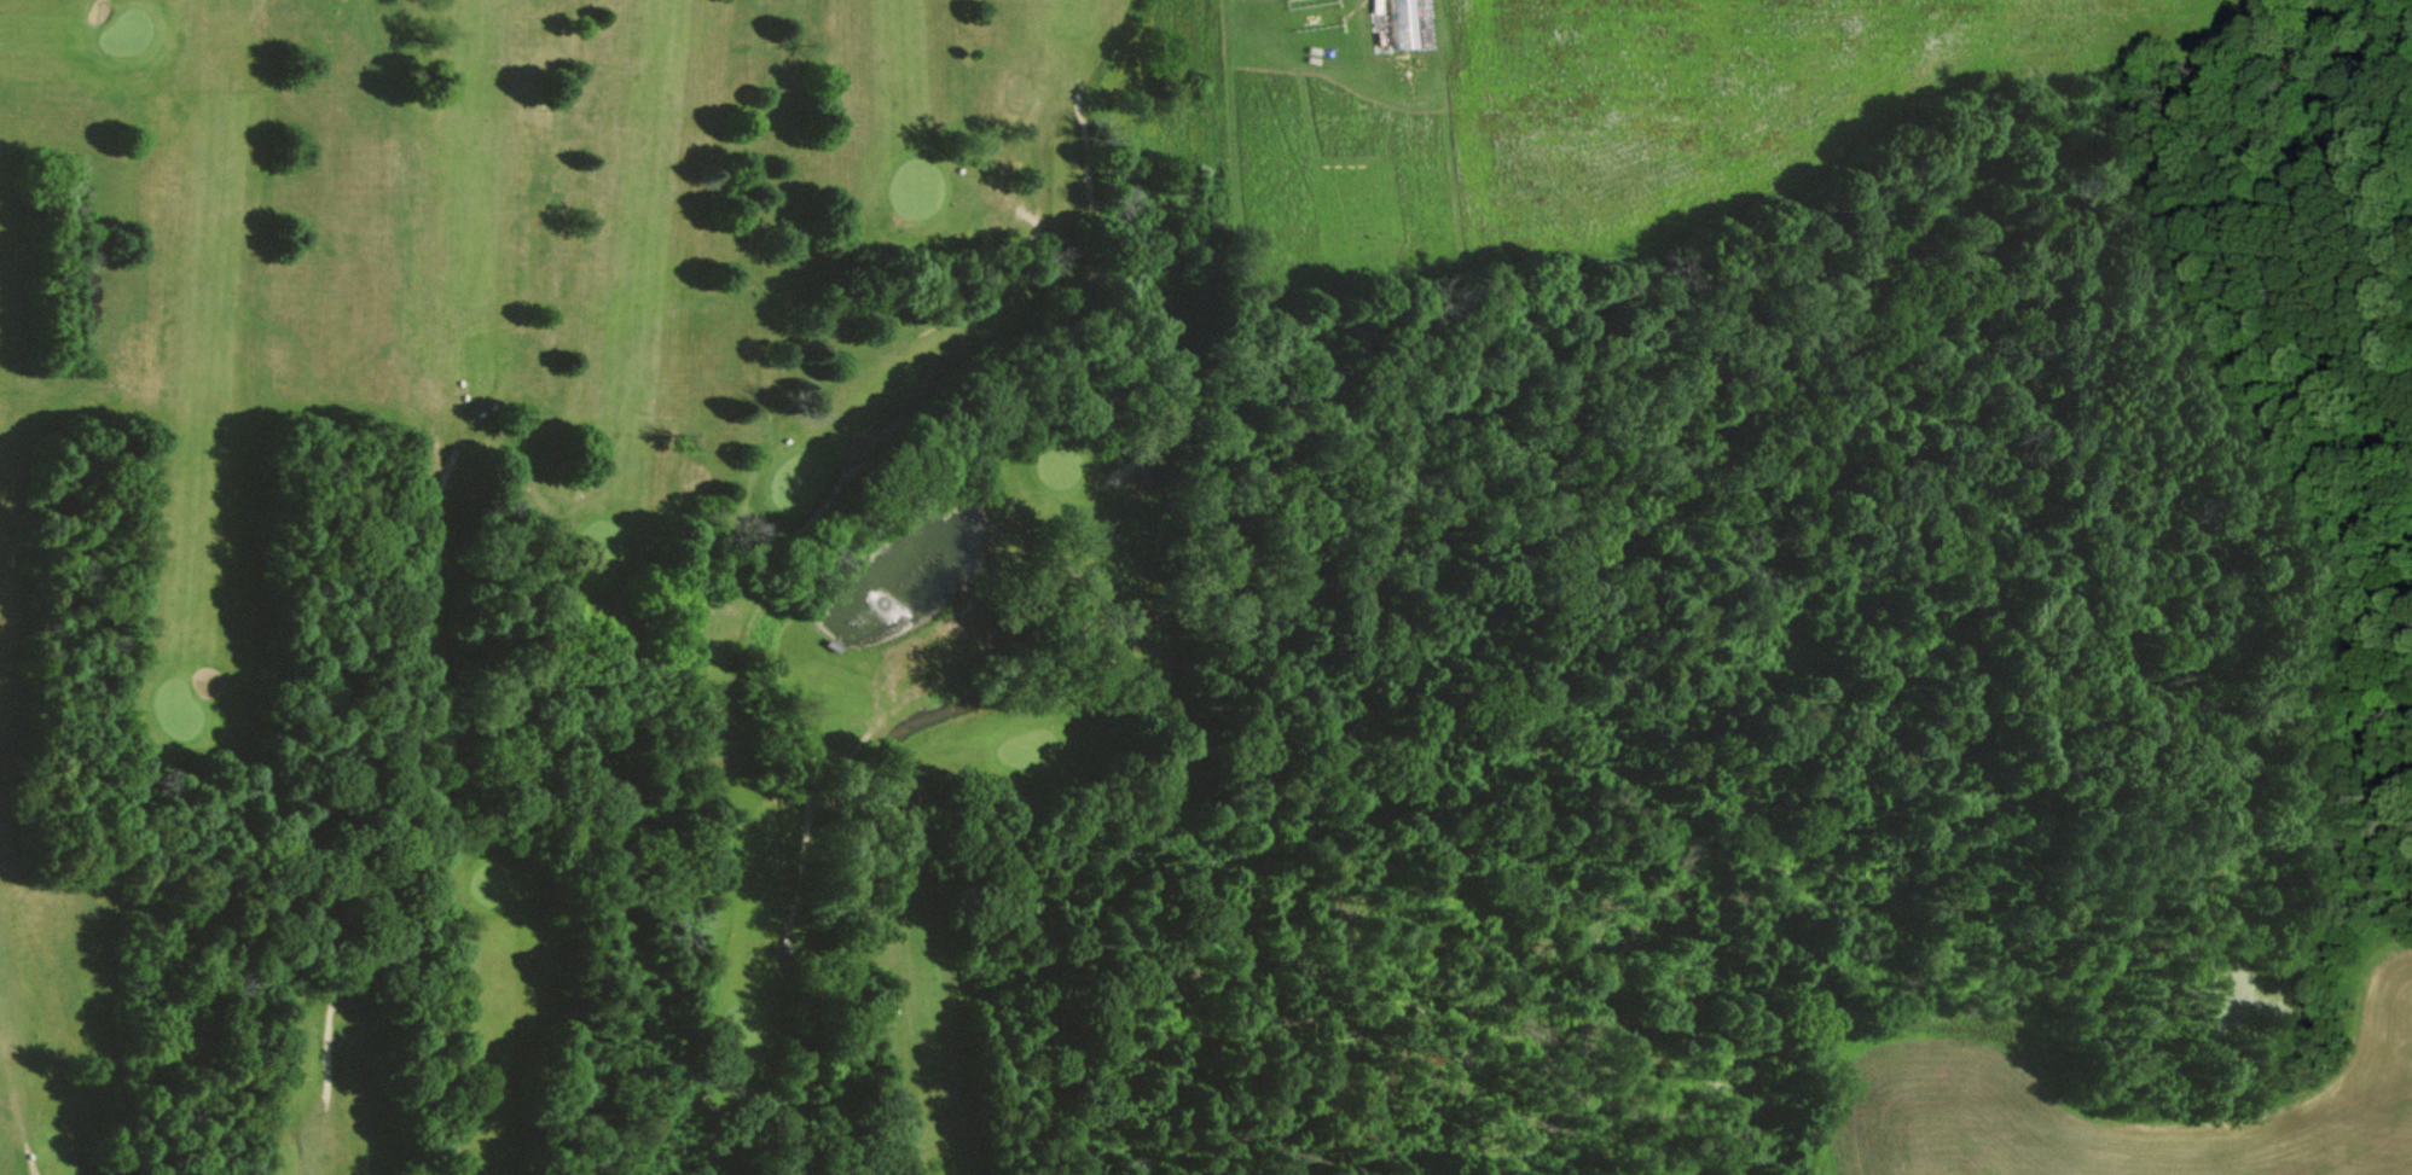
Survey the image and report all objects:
park: (581, 563)

